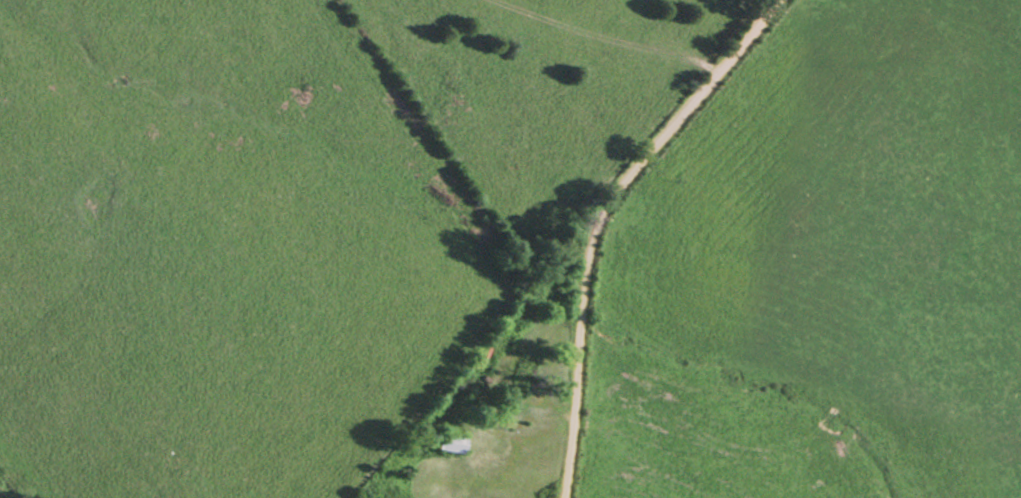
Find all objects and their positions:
road: (609, 218)
building: (522, 374)
building: (454, 442)

